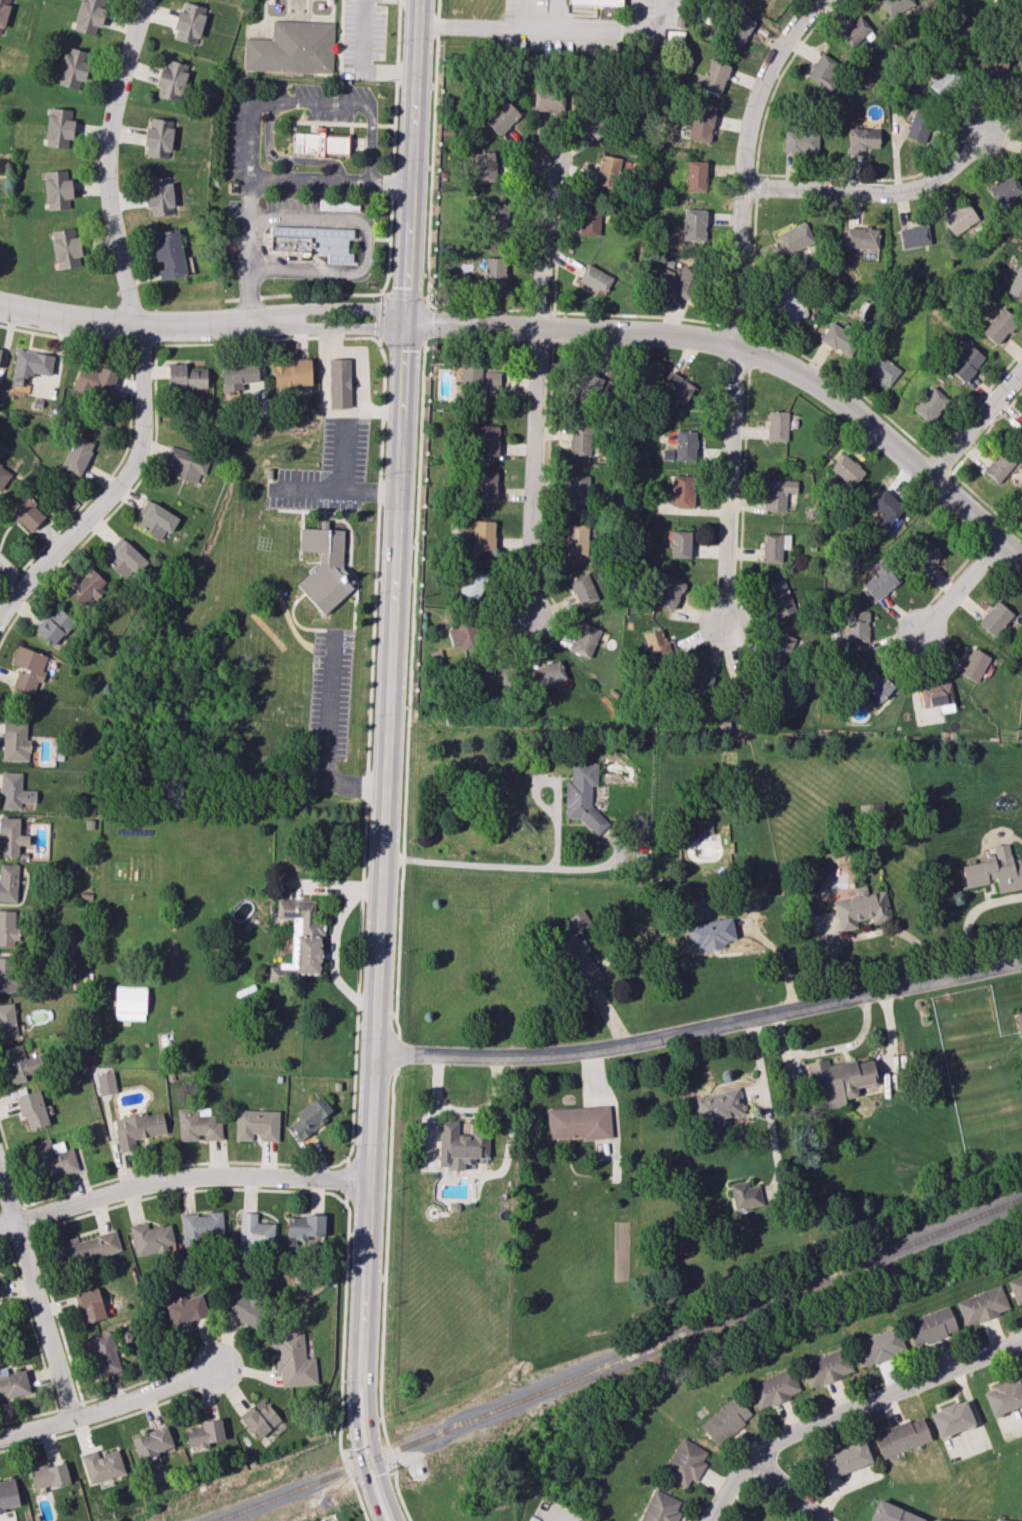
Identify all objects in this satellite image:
building: (596, 2)
road: (836, 2)
building: (900, 7)
building: (3, 12)
road: (527, 13)
building: (89, 16)
building: (189, 23)
road: (554, 28)
building: (738, 29)
building: (854, 30)
road: (396, 34)
building: (292, 48)
road: (361, 60)
building: (994, 67)
building: (72, 68)
building: (821, 69)
building: (714, 76)
building: (171, 80)
building: (942, 83)
building: (1020, 89)
building: (548, 100)
road: (314, 102)
building: (501, 117)
building: (591, 122)
road: (333, 124)
building: (701, 125)
building: (918, 126)
building: (59, 127)
road: (392, 128)
building: (158, 138)
building: (801, 140)
building: (861, 141)
building: (320, 142)
parking lot: (246, 143)
road: (281, 159)
building: (484, 167)
building: (612, 170)
road: (763, 174)
building: (696, 175)
road: (260, 181)
road: (757, 186)
road: (391, 187)
building: (1004, 189)
building: (57, 190)
road: (876, 190)
building: (158, 195)
building: (338, 205)
building: (497, 217)
building: (960, 218)
building: (589, 220)
building: (693, 224)
building: (913, 236)
building: (861, 237)
building: (795, 238)
road: (382, 242)
building: (312, 243)
building: (65, 248)
road: (369, 248)
road: (388, 251)
building: (168, 254)
building: (494, 271)
building: (595, 278)
building: (663, 279)
building: (1016, 282)
building: (688, 283)
road: (328, 295)
road: (736, 300)
road: (417, 303)
building: (788, 304)
road: (487, 311)
road: (545, 313)
road: (565, 314)
road: (387, 320)
road: (202, 322)
road: (140, 326)
building: (999, 326)
road: (737, 329)
road: (554, 331)
road: (65, 337)
building: (838, 338)
road: (143, 345)
road: (749, 349)
building: (0, 350)
road: (750, 353)
road: (391, 355)
building: (964, 362)
building: (31, 363)
building: (881, 369)
building: (293, 373)
building: (185, 377)
building: (239, 377)
building: (480, 377)
building: (95, 380)
building: (339, 383)
building: (588, 386)
road: (850, 386)
building: (676, 387)
road: (534, 391)
building: (929, 404)
road: (974, 421)
building: (779, 424)
road: (156, 429)
building: (1020, 429)
building: (485, 439)
building: (579, 440)
building: (682, 446)
road: (383, 448)
building: (77, 455)
building: (186, 464)
building: (998, 466)
road: (957, 469)
building: (846, 470)
parking lot: (328, 472)
road: (114, 473)
building: (3, 475)
road: (549, 475)
building: (485, 486)
building: (577, 489)
building: (682, 491)
road: (380, 492)
road: (744, 493)
building: (777, 493)
building: (887, 510)
building: (26, 511)
road: (317, 511)
building: (156, 519)
road: (334, 522)
road: (992, 531)
road: (301, 535)
building: (483, 535)
building: (575, 538)
building: (680, 543)
road: (350, 545)
building: (774, 546)
building: (924, 557)
building: (124, 558)
building: (325, 569)
road: (8, 576)
road: (954, 576)
road: (12, 581)
building: (879, 581)
building: (471, 583)
road: (961, 585)
building: (86, 588)
building: (583, 589)
building: (669, 592)
road: (2, 595)
building: (778, 598)
building: (994, 618)
road: (375, 622)
building: (857, 625)
building: (54, 626)
road: (342, 631)
building: (462, 635)
building: (584, 639)
building: (658, 643)
building: (784, 647)
building: (973, 664)
building: (28, 668)
building: (499, 673)
building: (548, 674)
building: (698, 682)
building: (874, 686)
parking lot: (330, 693)
building: (937, 696)
road: (326, 733)
building: (14, 739)
road: (387, 762)
building: (14, 791)
building: (581, 793)
building: (702, 832)
building: (11, 836)
road: (544, 863)
building: (995, 871)
building: (8, 882)
road: (339, 886)
building: (860, 908)
road: (970, 915)
building: (579, 921)
building: (8, 928)
road: (868, 933)
building: (710, 934)
road: (333, 955)
road: (778, 956)
building: (578, 961)
building: (9, 976)
building: (129, 1003)
building: (1019, 1020)
building: (7, 1022)
road: (700, 1026)
road: (397, 1053)
building: (19, 1064)
building: (839, 1079)
building: (104, 1083)
building: (717, 1106)
building: (32, 1110)
road: (462, 1111)
building: (310, 1117)
building: (578, 1122)
building: (256, 1124)
building: (197, 1125)
building: (138, 1129)
road: (430, 1131)
building: (460, 1146)
building: (52, 1158)
road: (141, 1171)
road: (181, 1176)
road: (356, 1182)
building: (744, 1195)
road: (62, 1223)
building: (305, 1226)
building: (201, 1227)
road: (31, 1230)
building: (255, 1231)
building: (151, 1238)
building: (88, 1247)
building: (1016, 1288)
road: (384, 1296)
road: (35, 1299)
building: (88, 1305)
building: (982, 1305)
building: (186, 1309)
building: (244, 1309)
building: (931, 1326)
building: (878, 1346)
road: (40, 1352)
building: (104, 1353)
building: (292, 1359)
railway: (616, 1361)
building: (826, 1367)
building: (13, 1383)
building: (776, 1388)
building: (1003, 1396)
road: (110, 1406)
road: (847, 1408)
road: (56, 1410)
road: (86, 1416)
building: (951, 1418)
building: (261, 1420)
building: (725, 1420)
road: (100, 1425)
building: (204, 1434)
building: (901, 1437)
building: (152, 1442)
building: (844, 1459)
building: (685, 1462)
building: (101, 1465)
building: (49, 1475)
road: (789, 1488)
building: (8, 1494)
park: (321, 1501)
building: (660, 1507)
building: (0, 1510)
building: (891, 1513)
road: (555, 1517)
building: (935, 1520)
building: (1000, 1520)

